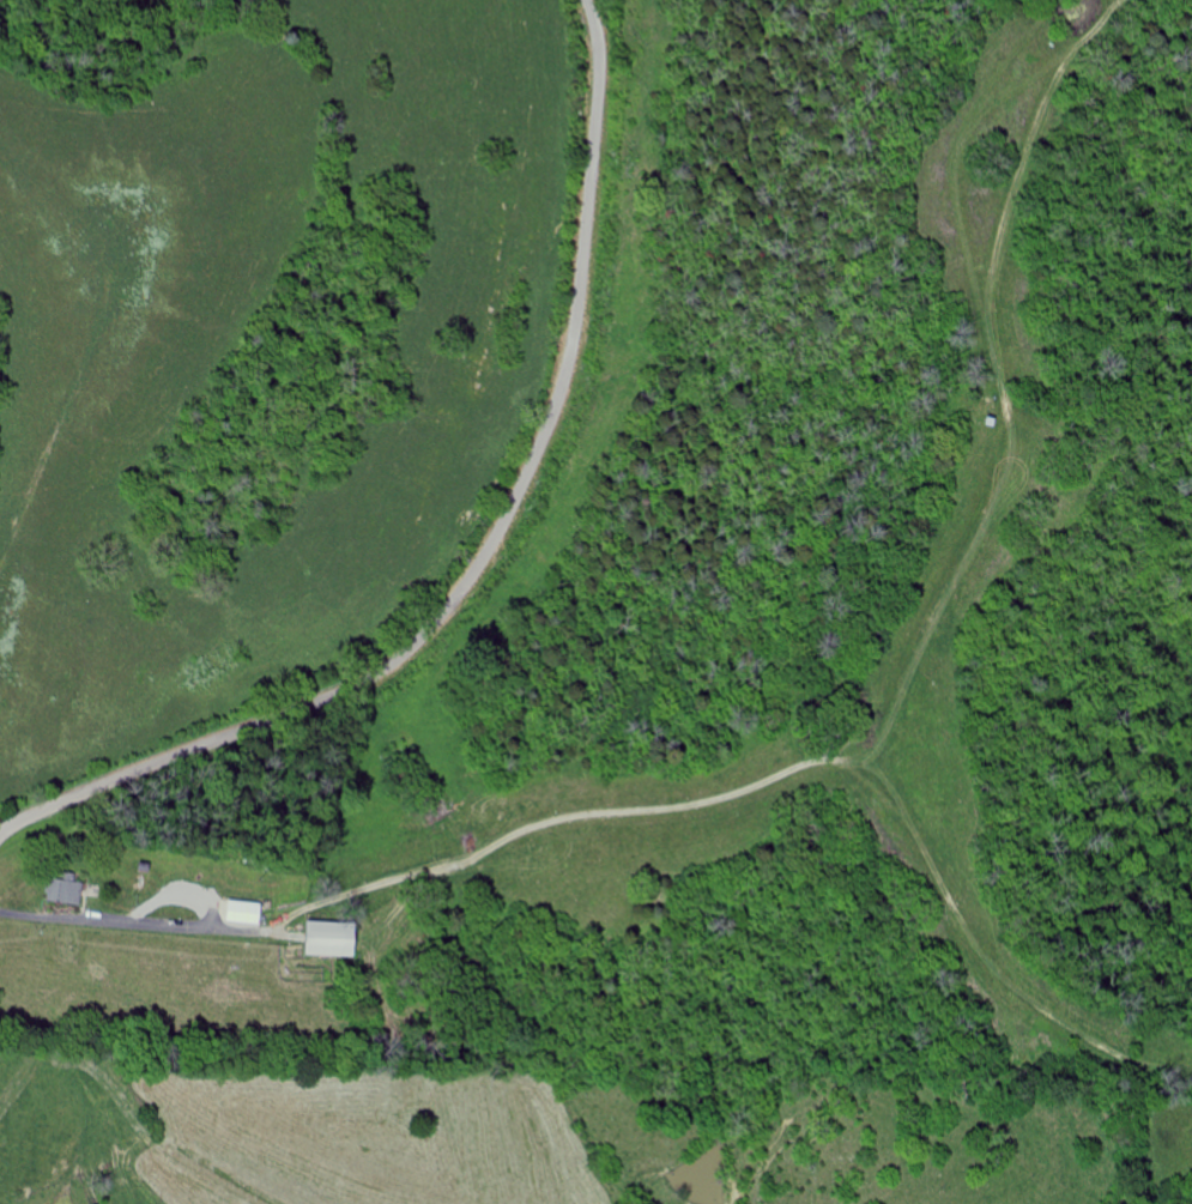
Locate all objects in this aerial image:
road: (486, 553)
road: (761, 682)
building: (68, 891)
building: (249, 913)
building: (338, 939)

